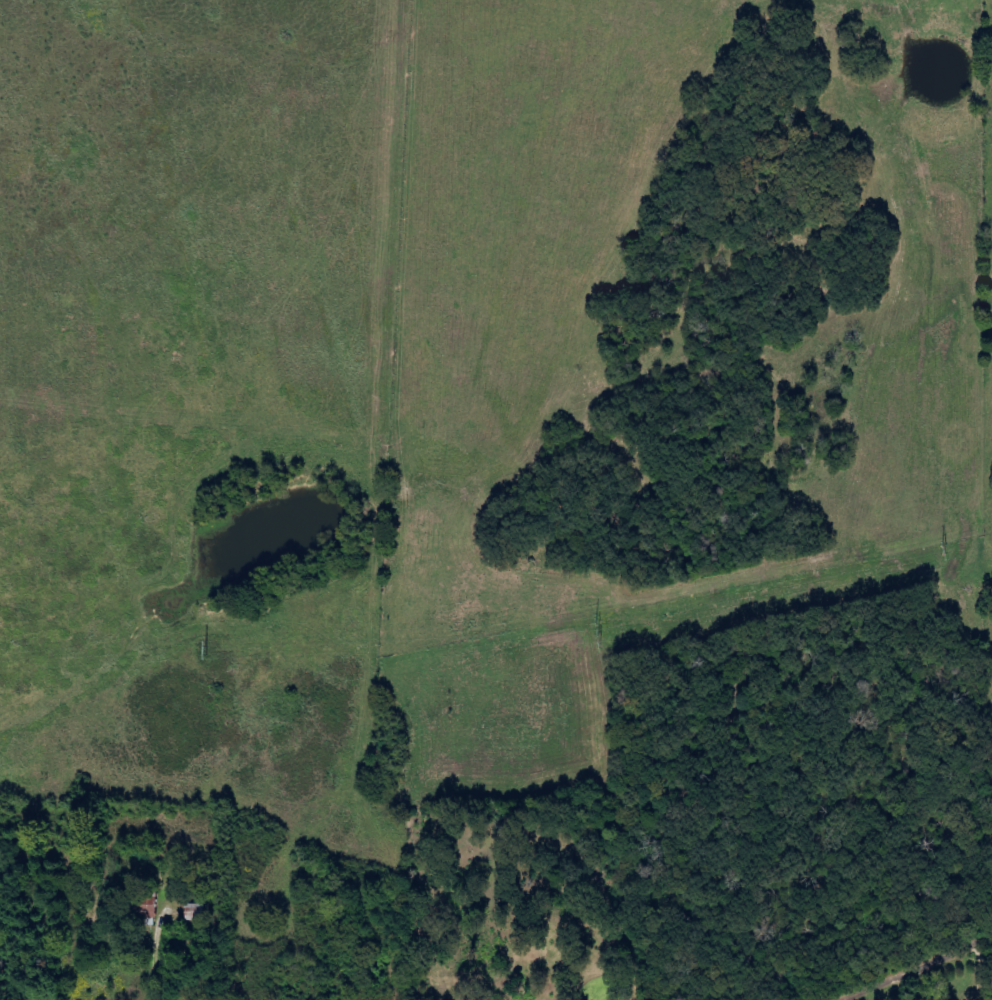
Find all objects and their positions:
power tower: (943, 549)
power tower: (600, 632)
power tower: (205, 649)
building: (145, 905)
road: (921, 970)
road: (403, 971)

